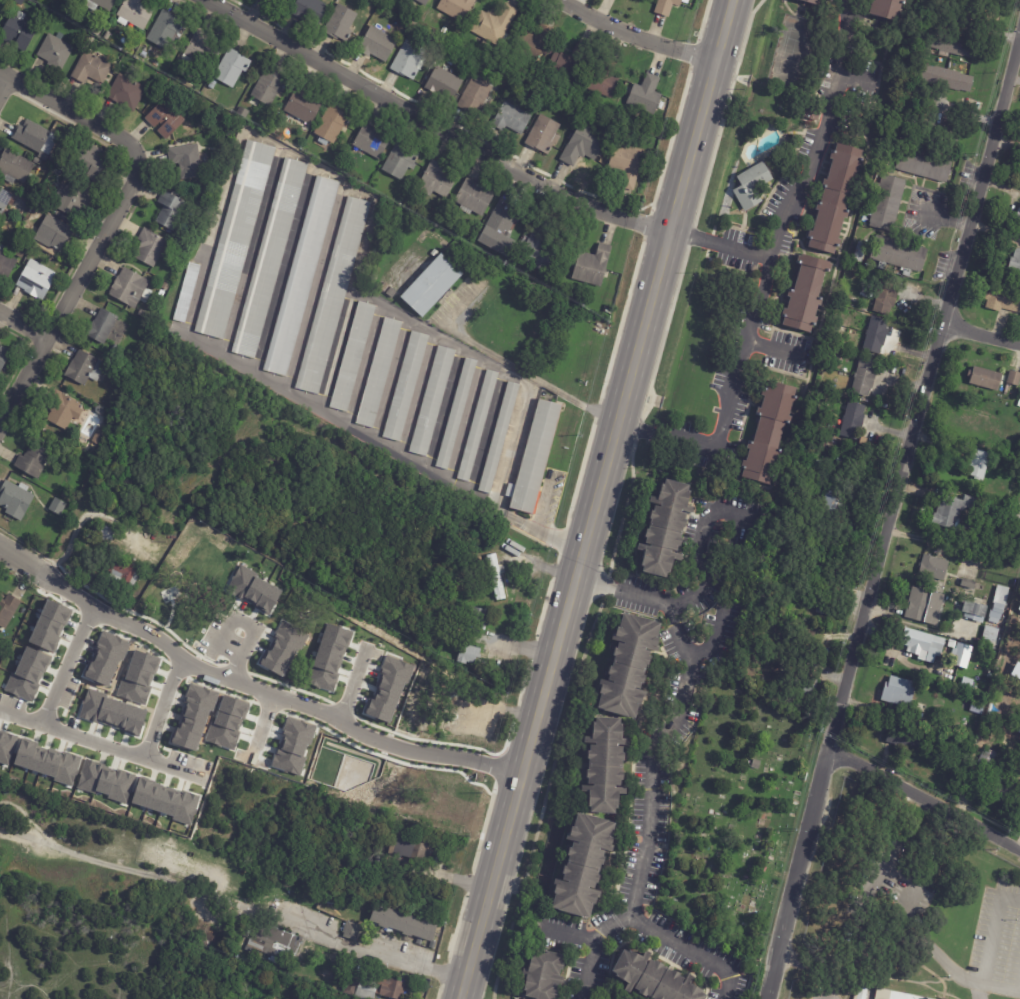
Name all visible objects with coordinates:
building: (268, 0)
building: (989, 0)
building: (284, 1)
building: (423, 2)
building: (812, 2)
building: (99, 4)
building: (1, 6)
building: (667, 6)
building: (457, 8)
building: (887, 9)
building: (311, 10)
building: (134, 12)
building: (341, 22)
building: (495, 23)
road: (842, 26)
building: (165, 29)
building: (18, 31)
building: (96, 31)
building: (107, 34)
road: (638, 36)
building: (378, 43)
building: (531, 43)
building: (955, 45)
building: (202, 49)
building: (55, 50)
building: (452, 53)
building: (408, 59)
building: (568, 64)
building: (232, 67)
building: (91, 68)
building: (603, 78)
building: (948, 78)
building: (445, 83)
building: (213, 84)
road: (6, 87)
building: (267, 88)
building: (126, 91)
building: (477, 95)
building: (646, 95)
building: (304, 105)
building: (243, 111)
building: (813, 112)
building: (512, 118)
building: (165, 119)
building: (218, 121)
road: (445, 123)
building: (332, 124)
building: (227, 131)
building: (936, 131)
building: (544, 134)
building: (35, 138)
building: (372, 140)
building: (585, 144)
road: (813, 155)
building: (53, 158)
building: (187, 159)
building: (401, 159)
building: (58, 162)
building: (91, 163)
building: (925, 163)
building: (627, 164)
building: (14, 167)
building: (437, 180)
building: (753, 186)
building: (837, 197)
building: (474, 198)
building: (73, 199)
building: (5, 200)
building: (887, 203)
building: (171, 211)
building: (61, 215)
building: (1019, 215)
road: (113, 220)
building: (502, 227)
road: (369, 228)
building: (54, 233)
building: (236, 240)
road: (720, 241)
building: (151, 247)
building: (540, 247)
road: (252, 251)
building: (861, 252)
building: (435, 253)
building: (20, 254)
building: (900, 254)
building: (270, 258)
building: (1016, 260)
building: (6, 264)
building: (593, 266)
building: (175, 267)
road: (284, 268)
building: (301, 276)
building: (35, 282)
building: (431, 285)
building: (166, 286)
road: (316, 286)
building: (385, 287)
building: (130, 288)
building: (392, 292)
building: (162, 293)
building: (187, 293)
building: (806, 294)
building: (334, 295)
building: (887, 296)
building: (1003, 300)
building: (143, 314)
building: (855, 314)
road: (23, 325)
building: (102, 326)
road: (981, 333)
building: (877, 335)
building: (114, 349)
road: (337, 350)
building: (353, 357)
building: (4, 358)
building: (837, 365)
road: (365, 366)
building: (85, 368)
building: (379, 373)
building: (865, 378)
building: (985, 378)
building: (1014, 378)
road: (392, 380)
building: (406, 386)
building: (831, 392)
road: (419, 395)
road: (730, 395)
building: (433, 401)
building: (1019, 404)
road: (444, 408)
building: (62, 410)
building: (457, 413)
road: (467, 421)
building: (854, 421)
building: (477, 425)
road: (488, 432)
building: (769, 433)
building: (99, 437)
building: (499, 437)
road: (384, 445)
building: (534, 458)
building: (33, 461)
building: (980, 463)
building: (1011, 464)
building: (64, 495)
building: (73, 497)
road: (598, 499)
railway: (607, 499)
building: (15, 500)
road: (543, 505)
building: (1015, 505)
building: (57, 507)
building: (956, 510)
building: (834, 511)
road: (84, 515)
road: (895, 516)
building: (1011, 516)
building: (665, 528)
building: (106, 534)
building: (933, 568)
building: (124, 574)
building: (85, 575)
building: (497, 576)
park: (190, 579)
building: (970, 584)
road: (624, 592)
building: (827, 604)
building: (1000, 604)
building: (924, 607)
building: (8, 610)
building: (976, 612)
building: (481, 618)
building: (16, 630)
road: (221, 635)
building: (992, 635)
road: (710, 641)
road: (248, 642)
building: (921, 644)
building: (469, 655)
building: (963, 656)
road: (65, 665)
building: (631, 665)
building: (967, 685)
road: (250, 686)
building: (805, 686)
road: (353, 687)
building: (900, 692)
road: (161, 708)
building: (979, 708)
park: (449, 709)
road: (261, 724)
building: (1019, 724)
road: (668, 726)
building: (968, 737)
building: (905, 738)
road: (98, 744)
building: (989, 756)
building: (606, 763)
building: (1001, 789)
park: (426, 799)
road: (928, 804)
park: (735, 816)
building: (413, 848)
building: (584, 864)
road: (231, 906)
building: (405, 925)
building: (352, 932)
road: (991, 933)
building: (274, 942)
road: (6, 947)
road: (687, 951)
road: (941, 958)
road: (811, 969)
building: (544, 975)
building: (654, 978)
road: (31, 987)
building: (374, 988)
road: (1000, 989)
building: (861, 993)
building: (614, 995)
building: (893, 995)

